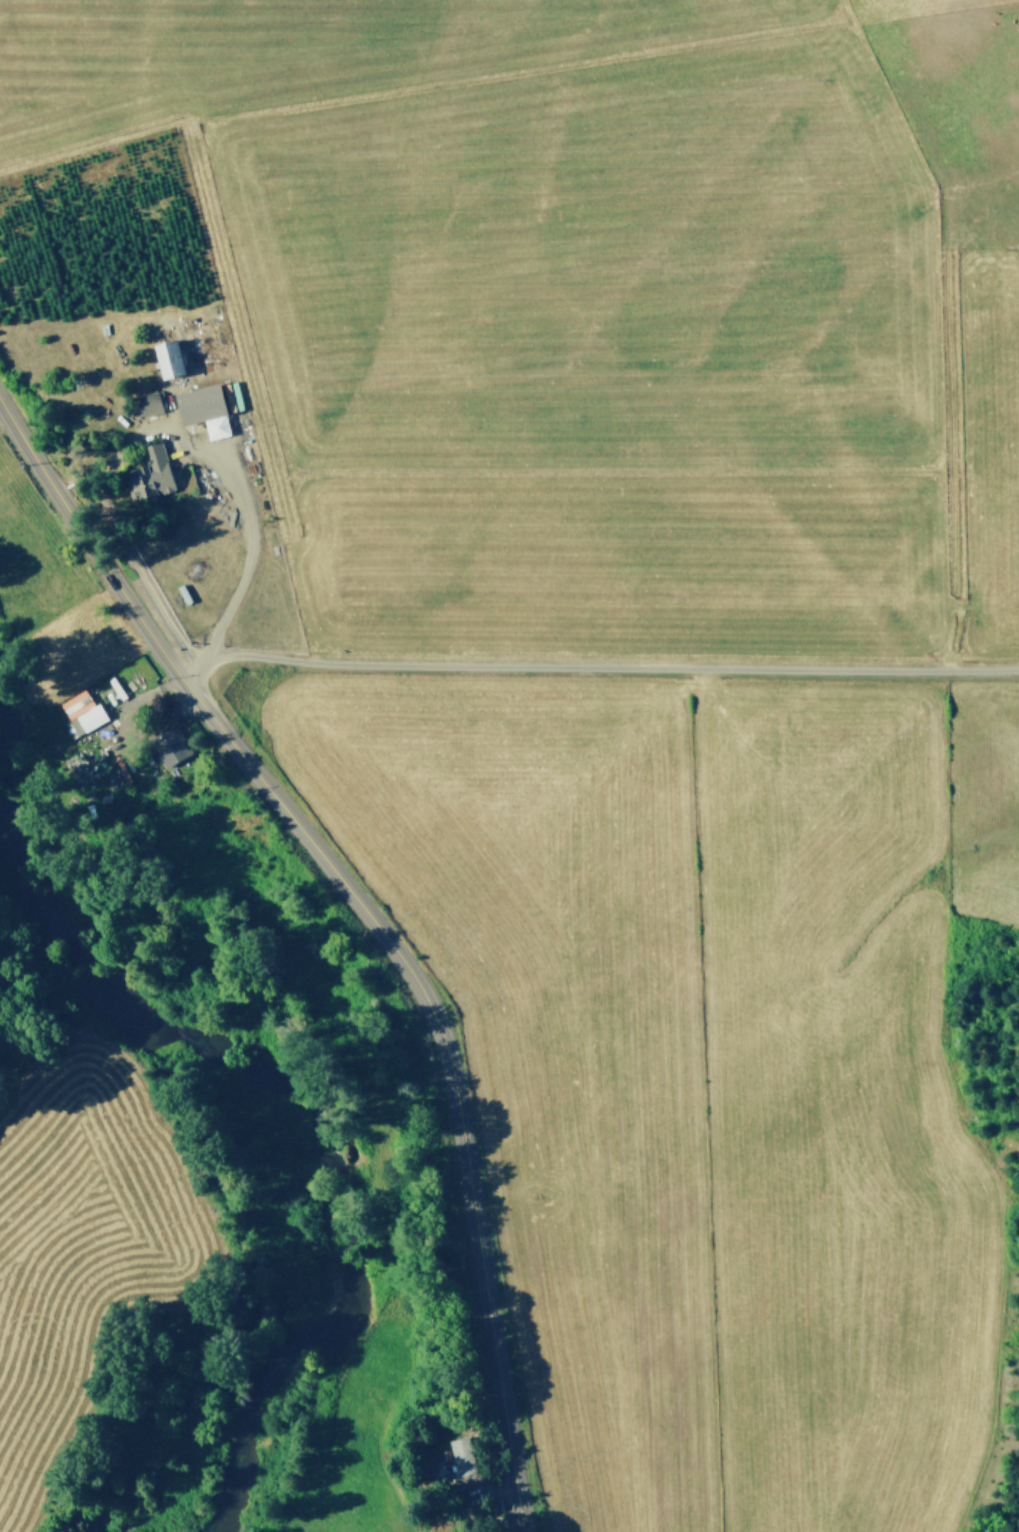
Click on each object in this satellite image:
building: (164, 359)
building: (148, 404)
building: (201, 410)
building: (147, 474)
road: (235, 535)
crop: (597, 662)
road: (596, 666)
building: (74, 706)
building: (87, 720)
building: (175, 746)
road: (371, 920)
river: (296, 1112)
crop: (67, 1247)
building: (460, 1455)

